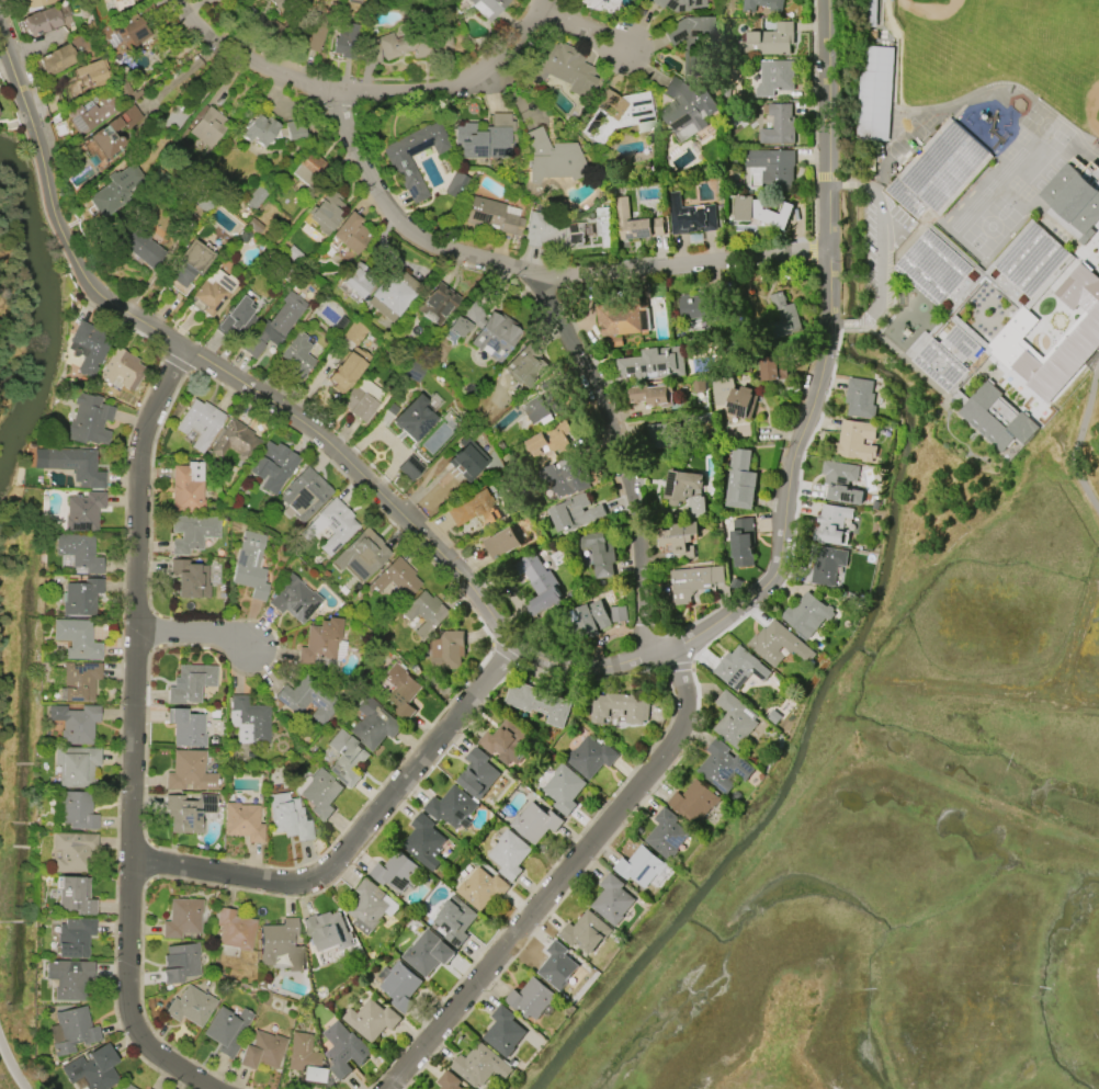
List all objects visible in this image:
building: (113, 0)
building: (281, 3)
building: (35, 4)
building: (600, 4)
building: (678, 4)
building: (763, 5)
building: (486, 7)
building: (42, 21)
building: (135, 30)
road: (592, 30)
building: (308, 32)
building: (689, 39)
building: (769, 41)
building: (345, 43)
building: (401, 47)
park: (1000, 53)
building: (56, 60)
building: (559, 68)
building: (93, 73)
building: (775, 79)
building: (125, 92)
building: (875, 93)
road: (373, 94)
building: (687, 106)
building: (92, 114)
building: (616, 115)
building: (779, 125)
building: (207, 126)
building: (258, 131)
building: (102, 132)
building: (292, 132)
building: (484, 137)
building: (552, 158)
building: (398, 161)
building: (308, 169)
building: (772, 169)
building: (939, 171)
building: (115, 190)
building: (253, 200)
building: (1075, 200)
building: (760, 212)
building: (325, 213)
building: (491, 215)
building: (691, 216)
building: (635, 223)
building: (552, 231)
building: (350, 232)
building: (1098, 246)
building: (145, 249)
road: (880, 257)
road: (683, 261)
building: (934, 262)
building: (188, 263)
building: (356, 280)
road: (1081, 284)
building: (213, 291)
building: (390, 294)
building: (435, 304)
building: (703, 306)
building: (236, 317)
building: (625, 317)
building: (783, 318)
building: (465, 319)
building: (274, 325)
road: (563, 325)
building: (353, 333)
building: (494, 336)
building: (1083, 338)
building: (87, 347)
building: (297, 358)
building: (943, 363)
building: (655, 364)
building: (525, 366)
building: (774, 368)
building: (122, 370)
building: (345, 370)
building: (653, 395)
building: (733, 397)
building: (860, 398)
building: (358, 404)
building: (540, 411)
building: (997, 418)
building: (412, 419)
building: (88, 420)
building: (200, 423)
building: (659, 435)
building: (553, 441)
road: (1080, 441)
building: (856, 442)
building: (236, 443)
building: (467, 457)
building: (75, 465)
building: (272, 466)
building: (409, 468)
building: (567, 477)
building: (740, 480)
building: (842, 483)
building: (681, 486)
building: (186, 488)
building: (303, 495)
building: (474, 509)
building: (82, 511)
building: (576, 513)
building: (832, 524)
building: (330, 525)
building: (191, 532)
building: (678, 537)
building: (741, 542)
building: (502, 543)
building: (78, 552)
building: (600, 554)
building: (361, 555)
building: (827, 564)
building: (249, 565)
building: (189, 579)
building: (395, 579)
building: (539, 582)
building: (693, 582)
building: (80, 597)
building: (293, 599)
building: (426, 613)
building: (619, 614)
building: (807, 614)
building: (589, 620)
road: (186, 635)
building: (76, 639)
building: (778, 644)
building: (319, 645)
building: (447, 649)
road: (534, 653)
building: (740, 668)
building: (78, 681)
building: (190, 683)
building: (401, 690)
building: (307, 700)
building: (539, 703)
building: (620, 707)
building: (248, 721)
building: (735, 721)
building: (73, 724)
building: (372, 724)
building: (185, 727)
road: (133, 733)
building: (506, 742)
building: (590, 758)
building: (345, 759)
building: (75, 765)
building: (723, 768)
building: (189, 771)
building: (477, 774)
building: (564, 789)
building: (320, 793)
building: (694, 802)
building: (452, 808)
building: (76, 809)
building: (189, 813)
building: (287, 817)
building: (242, 821)
building: (535, 823)
park: (900, 825)
building: (666, 835)
road: (358, 837)
building: (423, 842)
building: (72, 851)
building: (509, 854)
building: (641, 866)
building: (397, 873)
road: (567, 880)
building: (483, 888)
building: (73, 896)
building: (612, 899)
building: (370, 907)
building: (181, 918)
building: (455, 920)
building: (327, 931)
building: (233, 932)
building: (586, 932)
building: (73, 937)
building: (280, 944)
building: (428, 953)
building: (180, 962)
building: (557, 966)
building: (68, 979)
building: (401, 987)
building: (531, 998)
building: (190, 1006)
building: (371, 1020)
building: (70, 1030)
building: (225, 1030)
building: (503, 1032)
building: (343, 1048)
building: (261, 1051)
building: (304, 1058)
road: (13, 1062)
building: (480, 1066)
building: (92, 1069)
building: (449, 1081)
building: (126, 1087)

